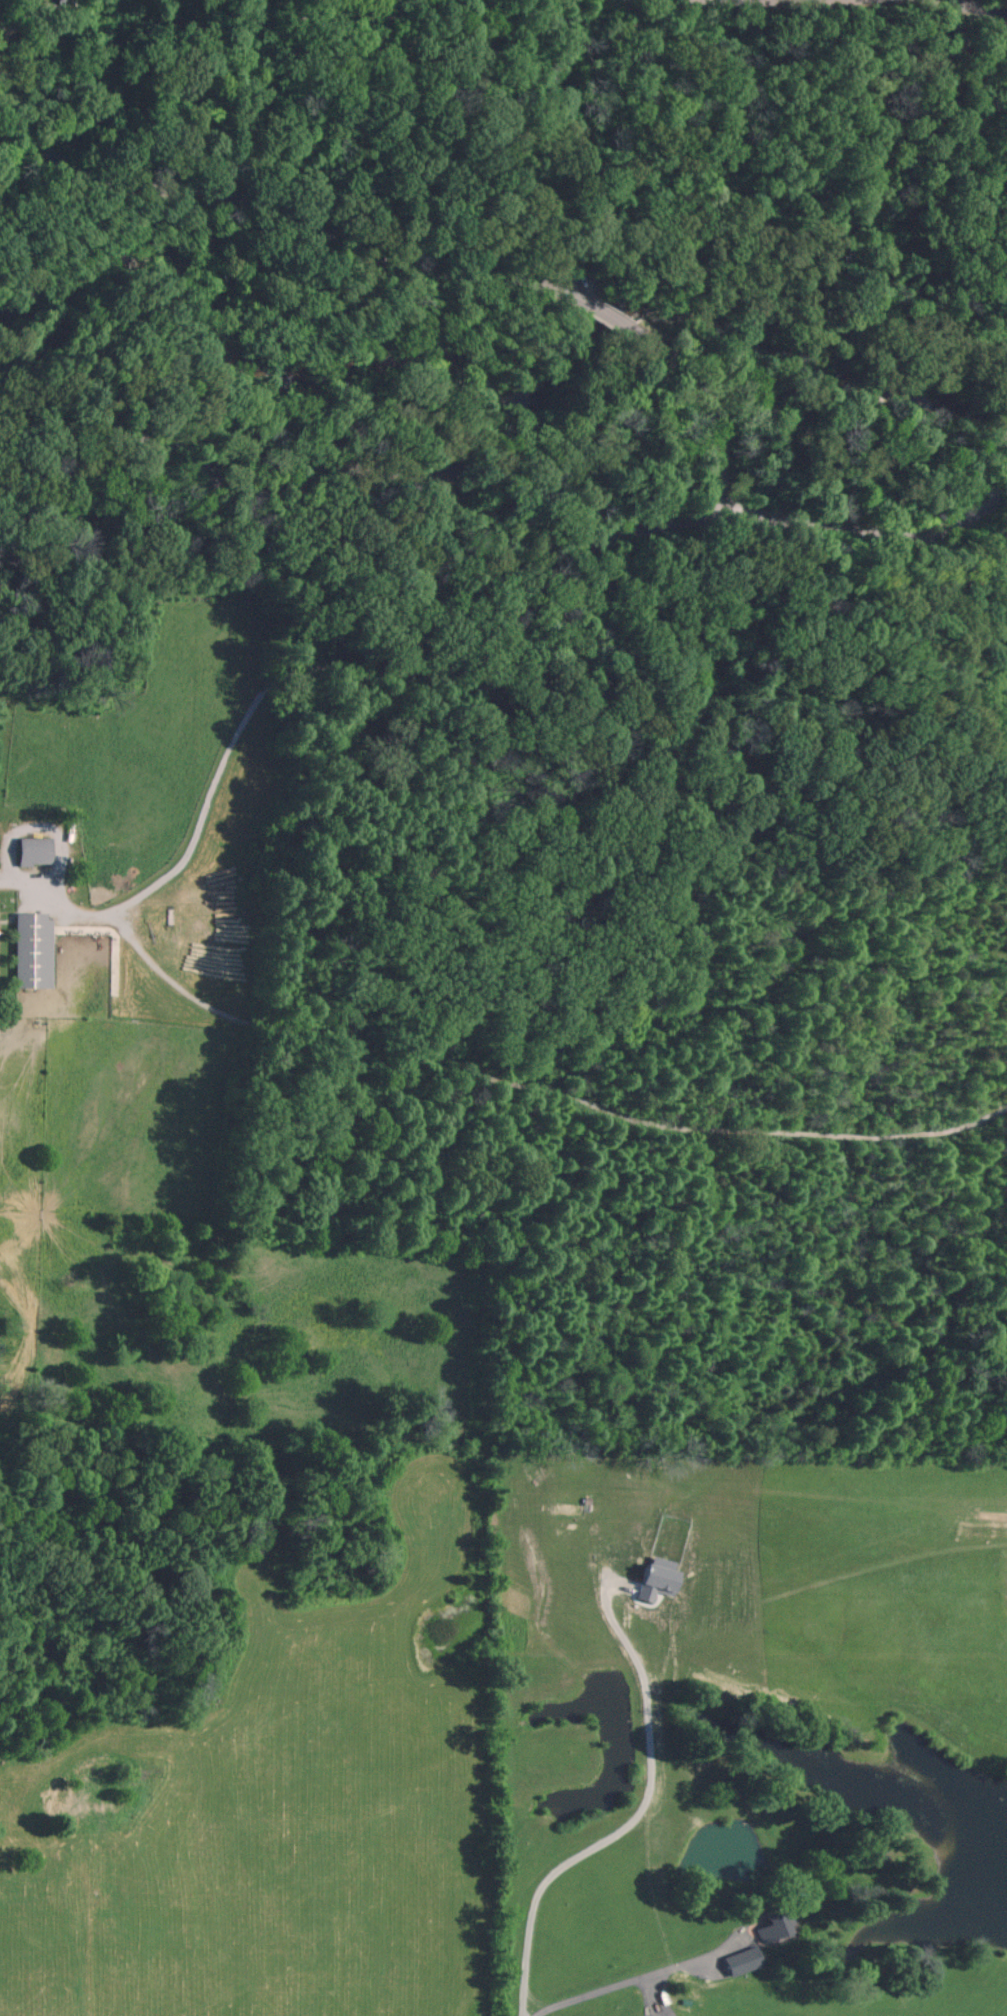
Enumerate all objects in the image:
road: (61, 10)
road: (979, 11)
building: (343, 19)
parking lot: (3, 80)
road: (205, 88)
road: (625, 138)
road: (277, 214)
parking lot: (571, 282)
road: (612, 320)
road: (713, 406)
road: (355, 410)
road: (358, 469)
parking lot: (444, 484)
road: (870, 526)
building: (33, 852)
building: (34, 953)
parking lot: (0, 972)
building: (655, 1582)
road: (635, 1821)
building: (779, 1925)
building: (746, 1960)
road: (627, 1983)

